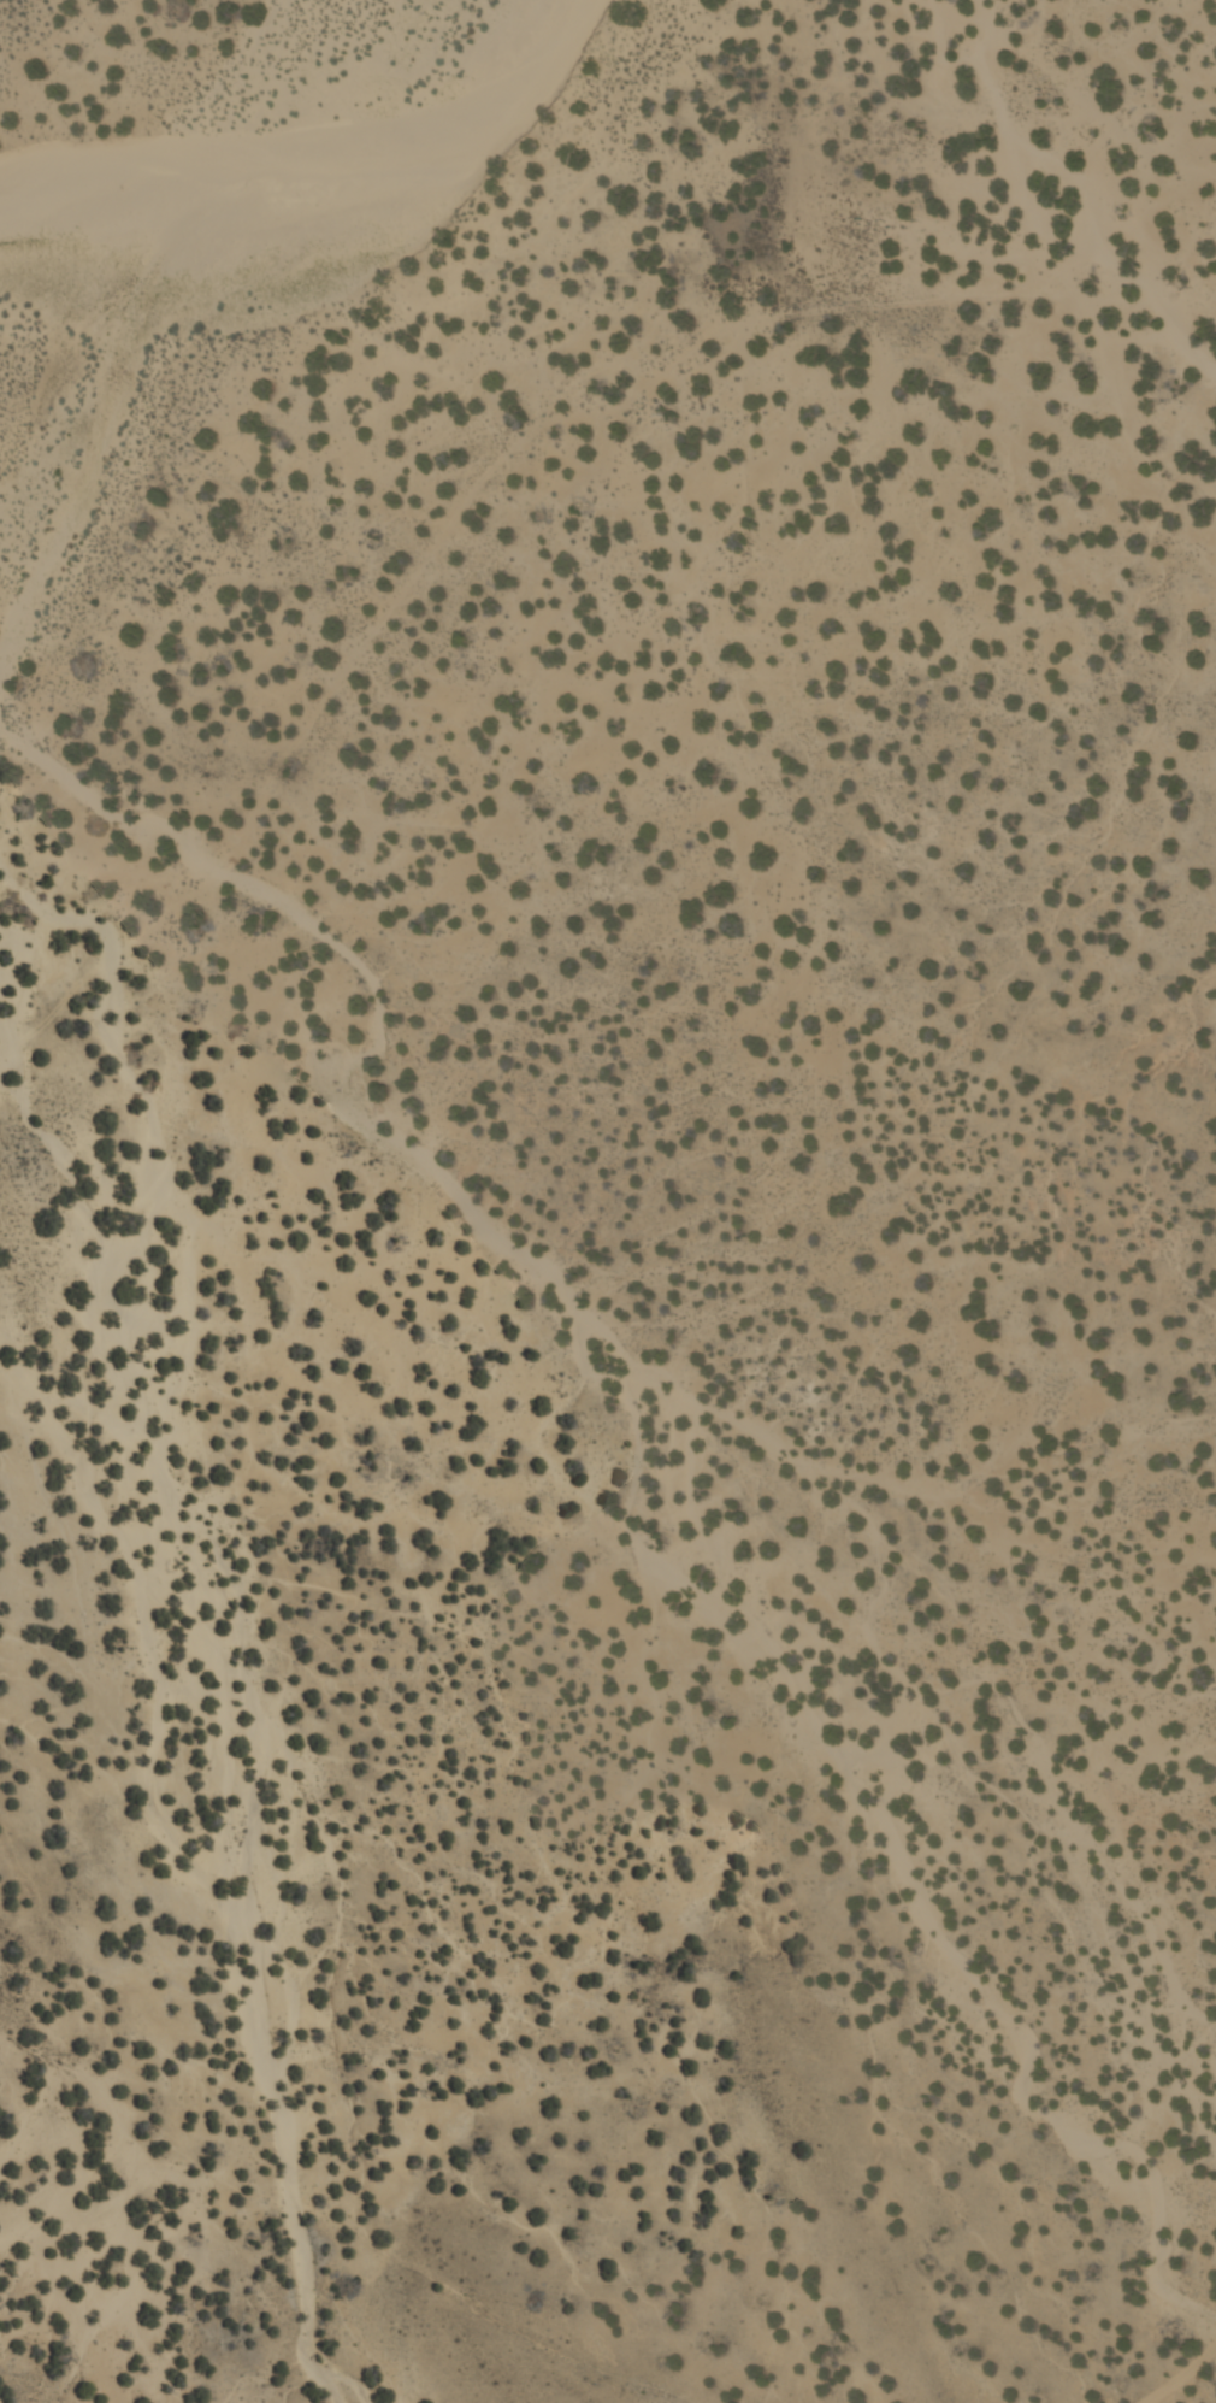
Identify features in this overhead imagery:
road: (1188, 2370)

